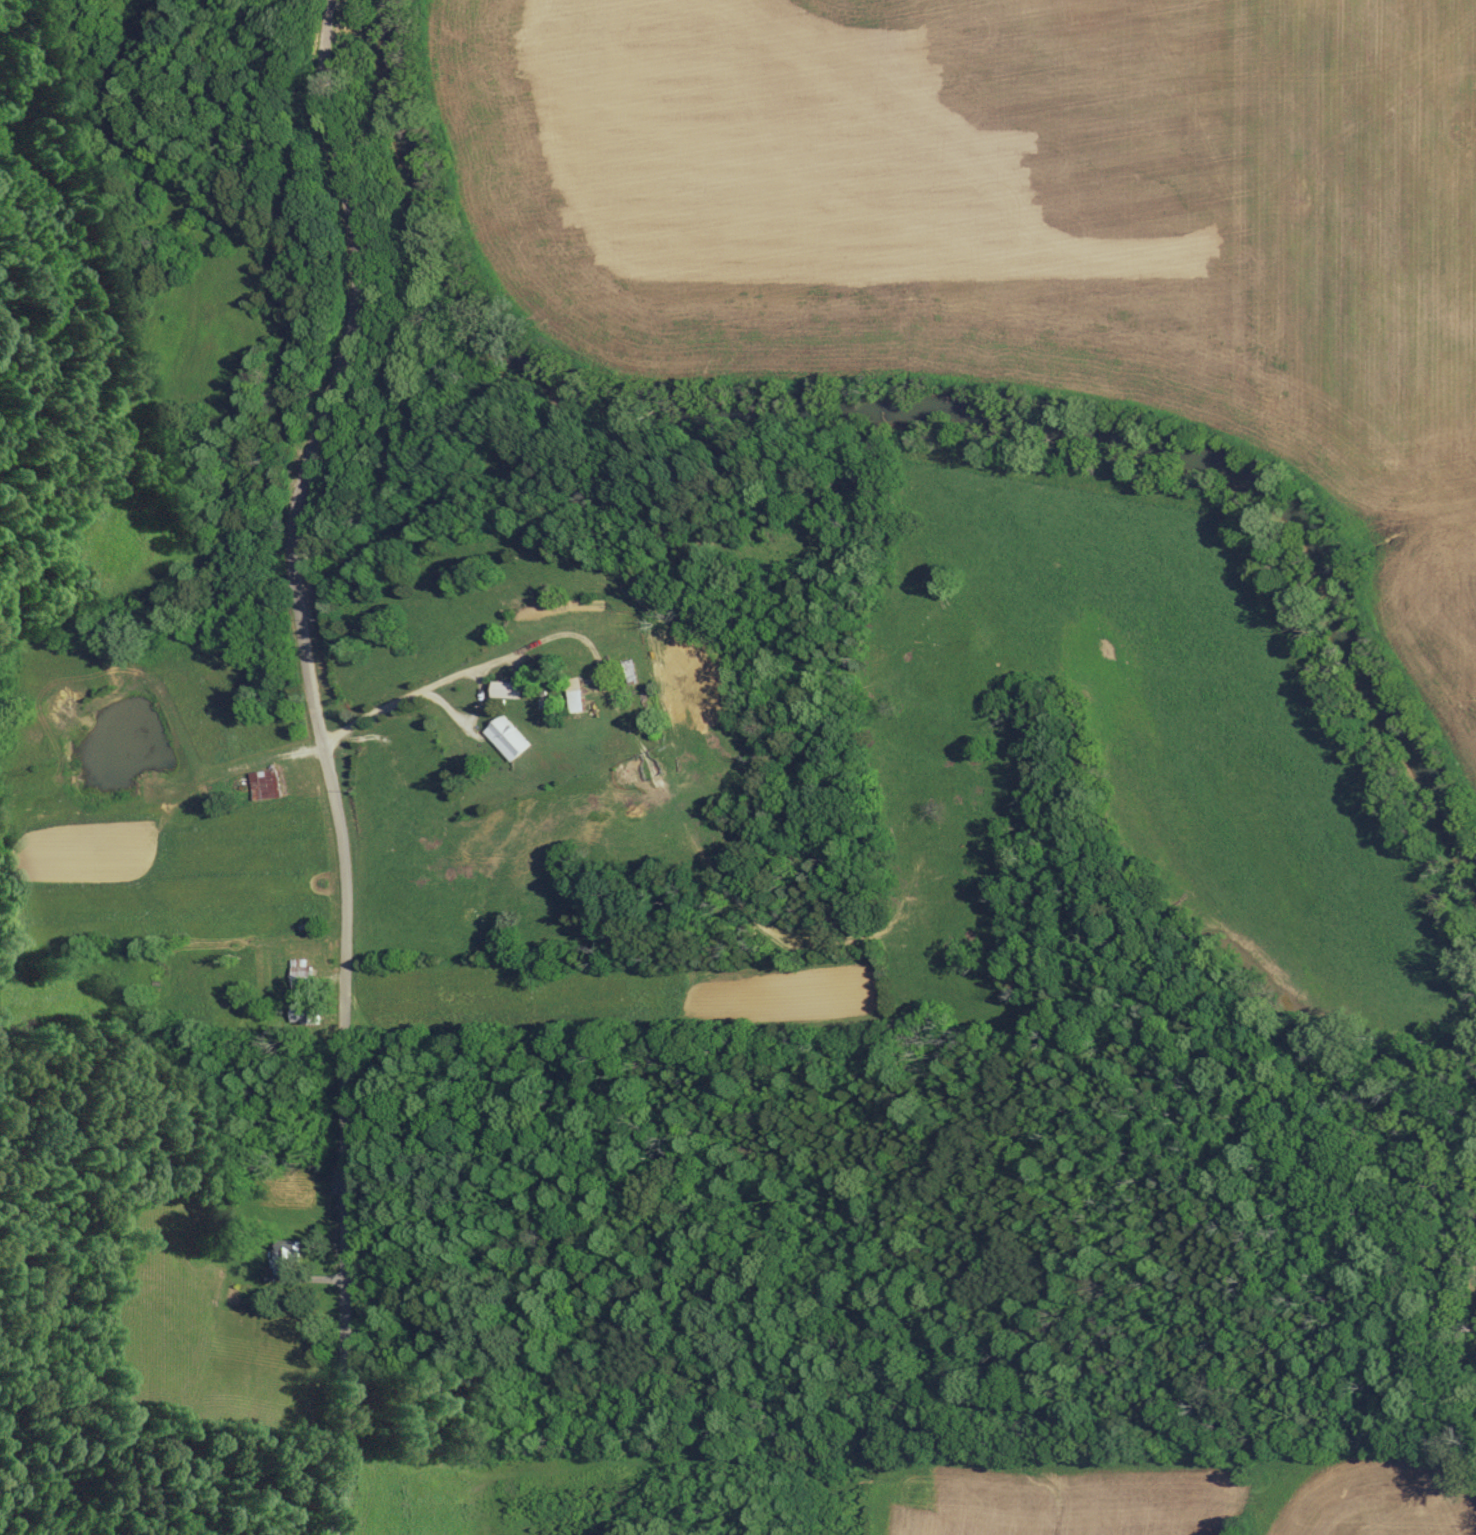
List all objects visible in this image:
river: (903, 394)
building: (631, 672)
building: (508, 689)
road: (414, 690)
building: (580, 693)
building: (508, 739)
road: (327, 761)
building: (268, 784)
building: (302, 973)
building: (301, 1013)
building: (282, 1258)

